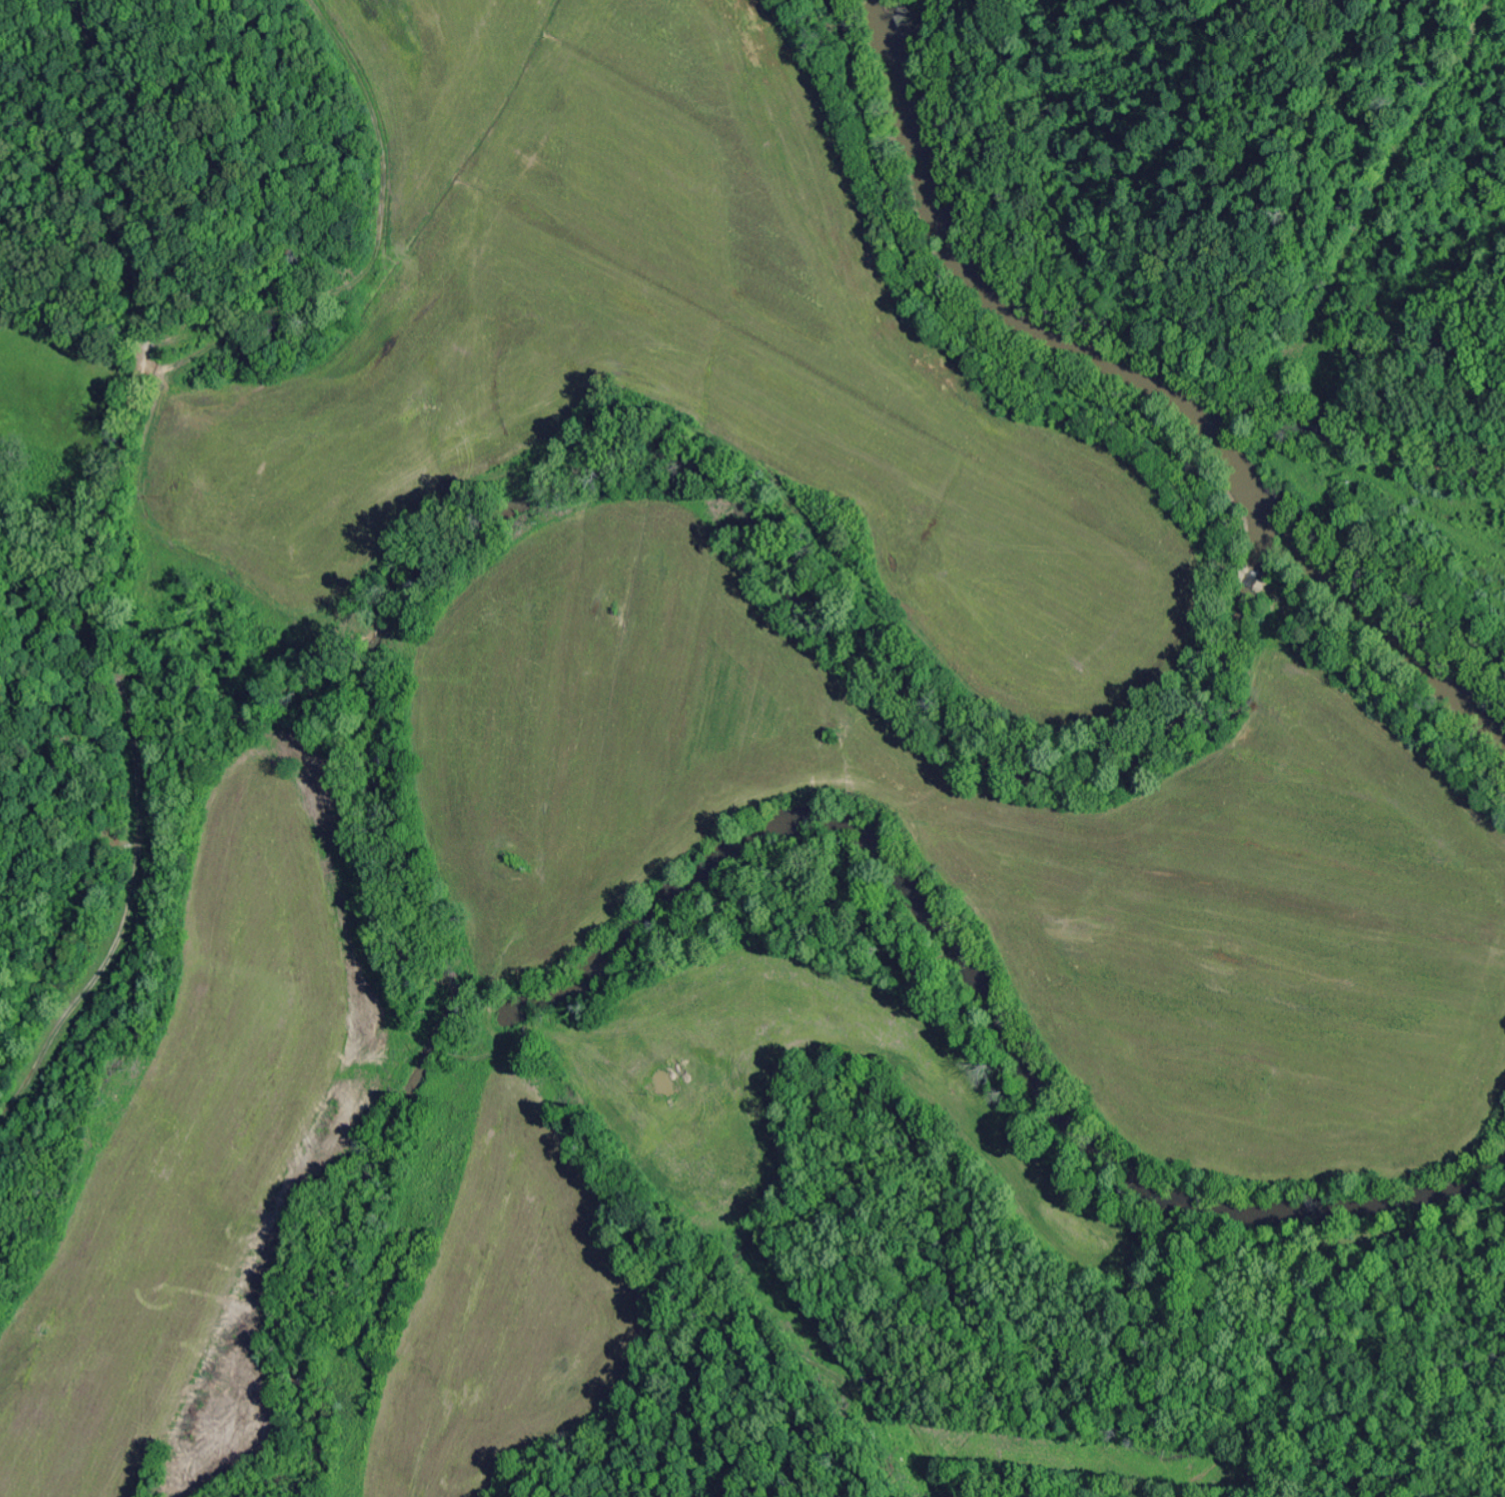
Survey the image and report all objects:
road: (1363, 159)
river: (1151, 379)
road: (129, 592)

